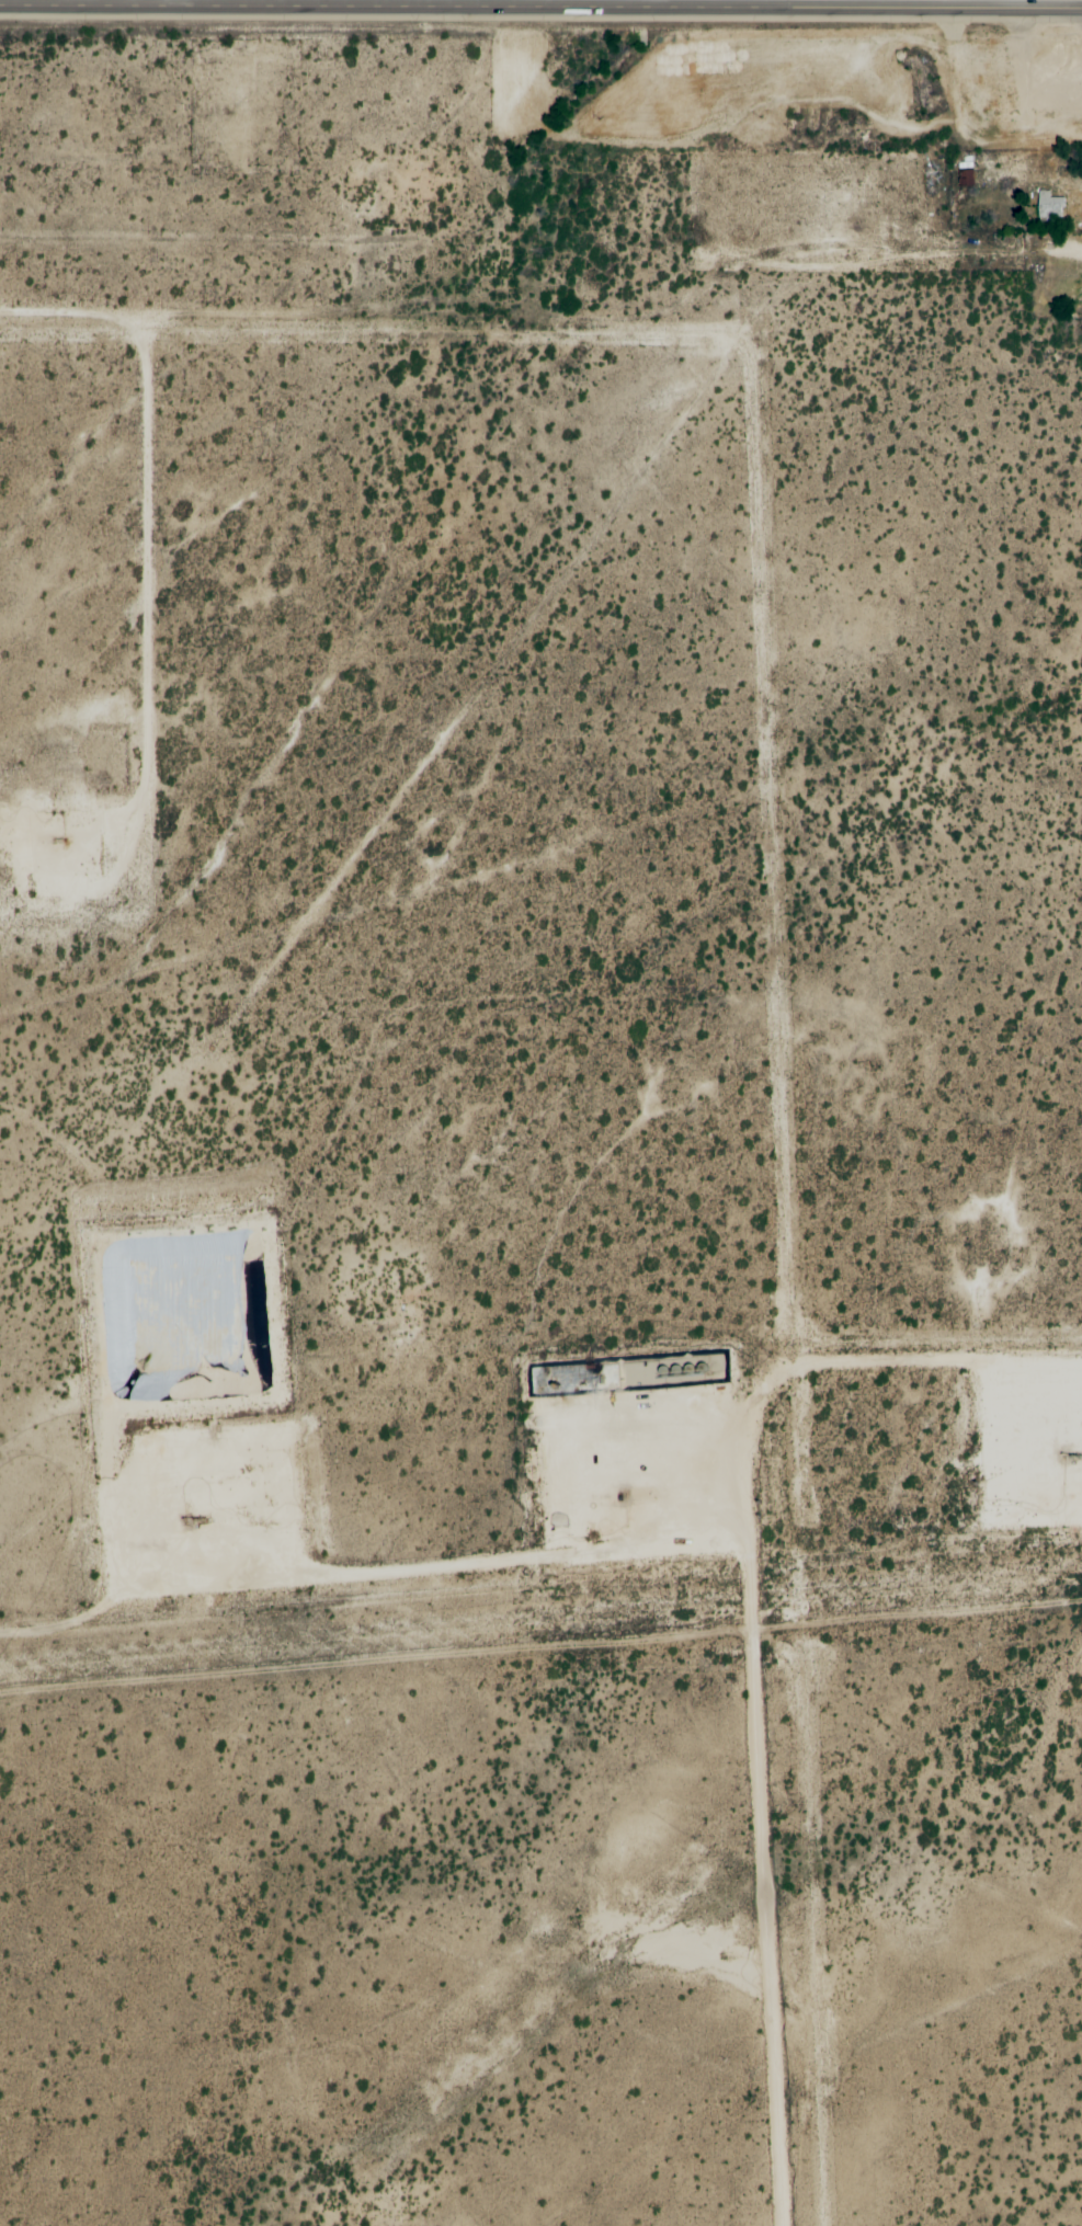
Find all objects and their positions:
road: (540, 11)
road: (1044, 273)
road: (571, 403)

